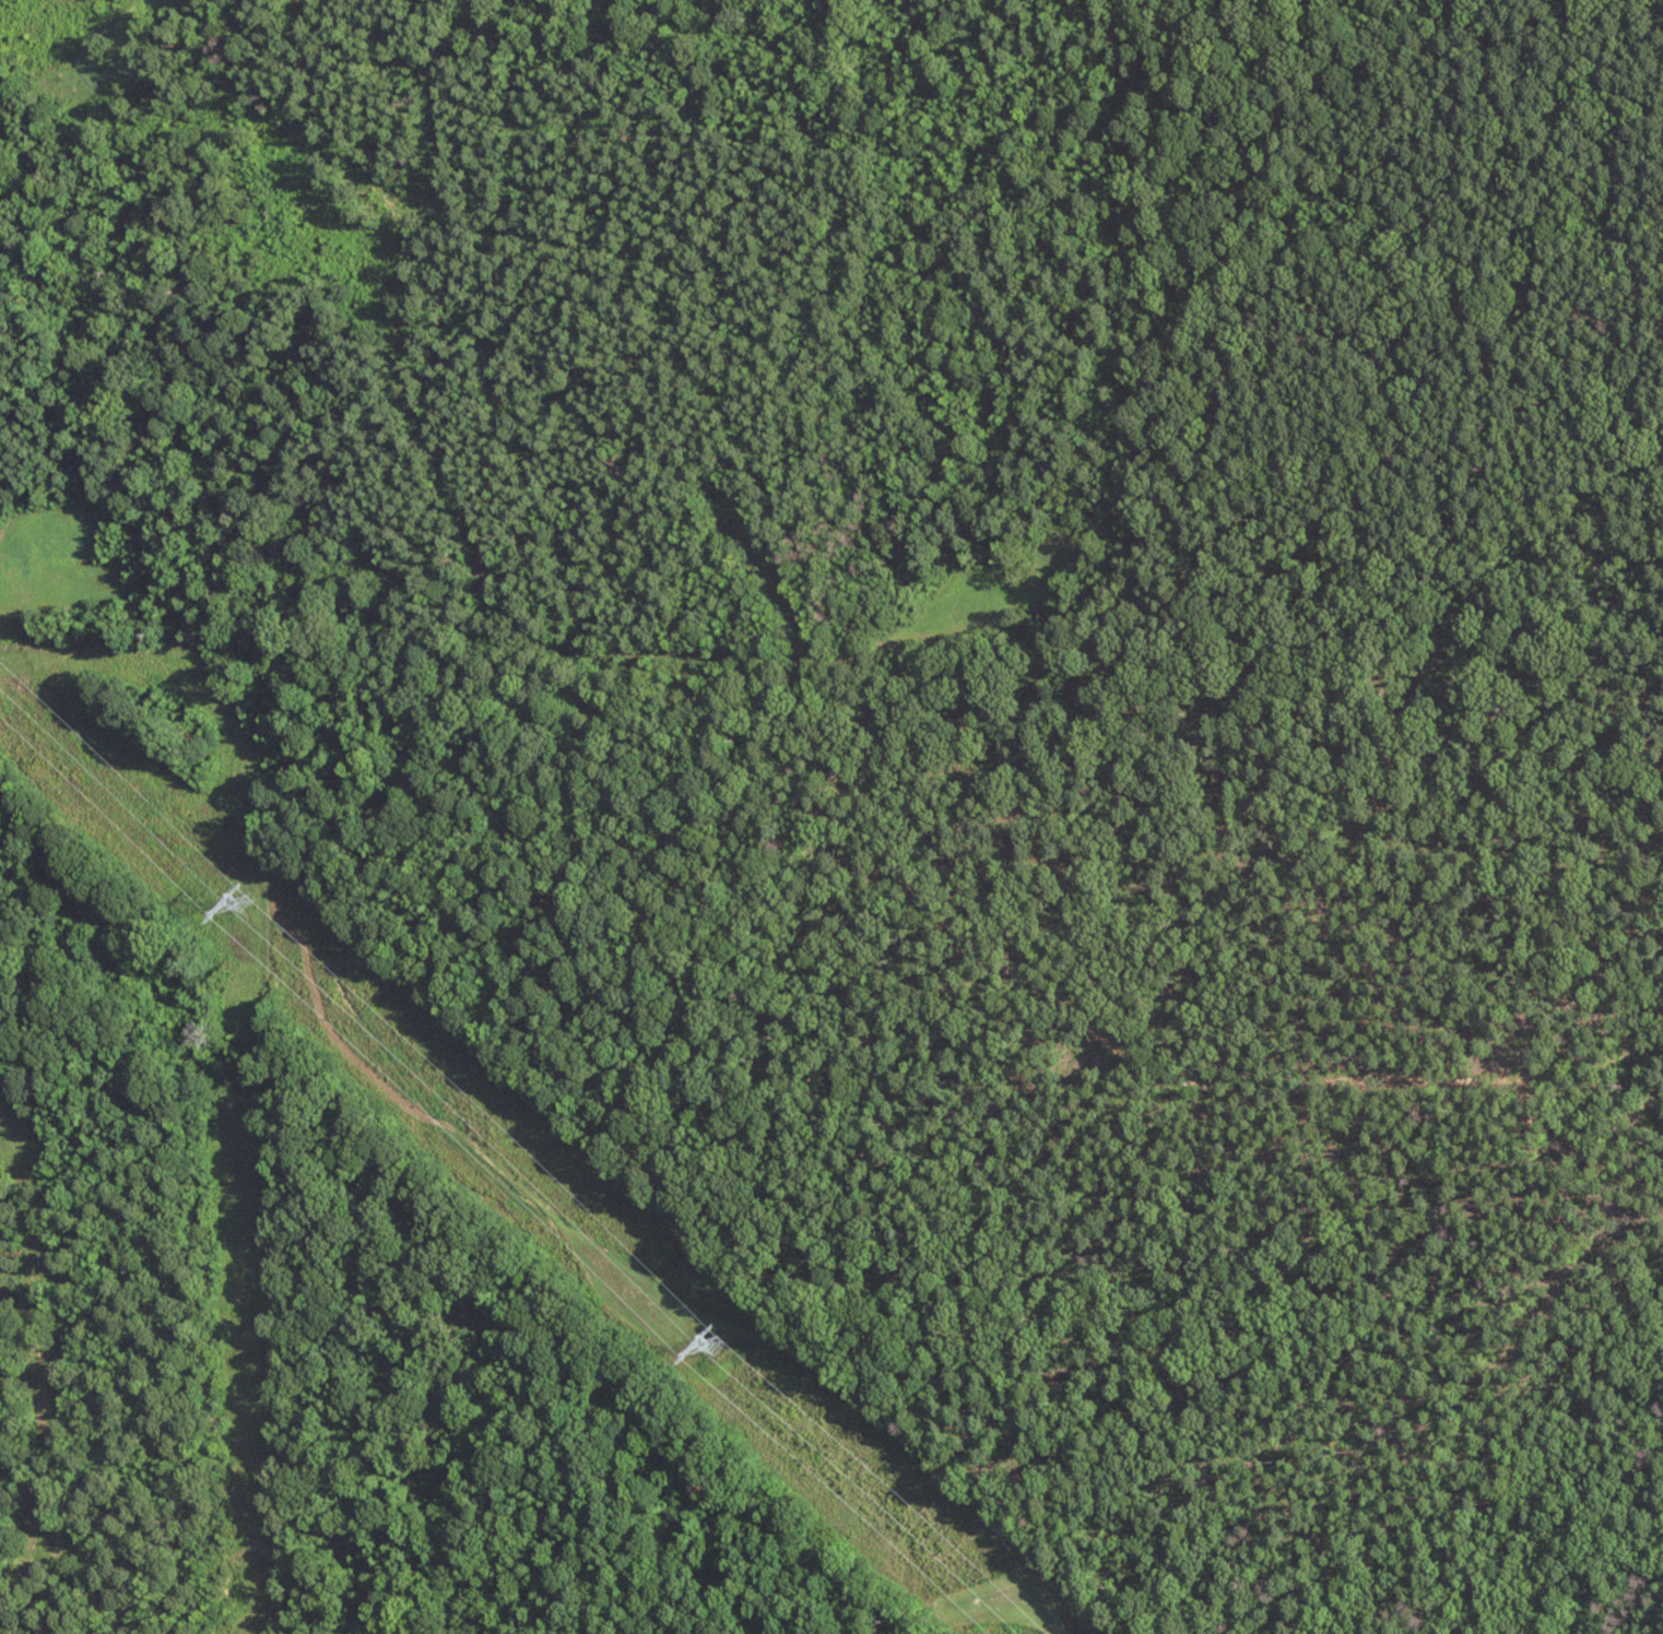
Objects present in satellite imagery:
power tower: (252, 904)
power tower: (722, 1348)

